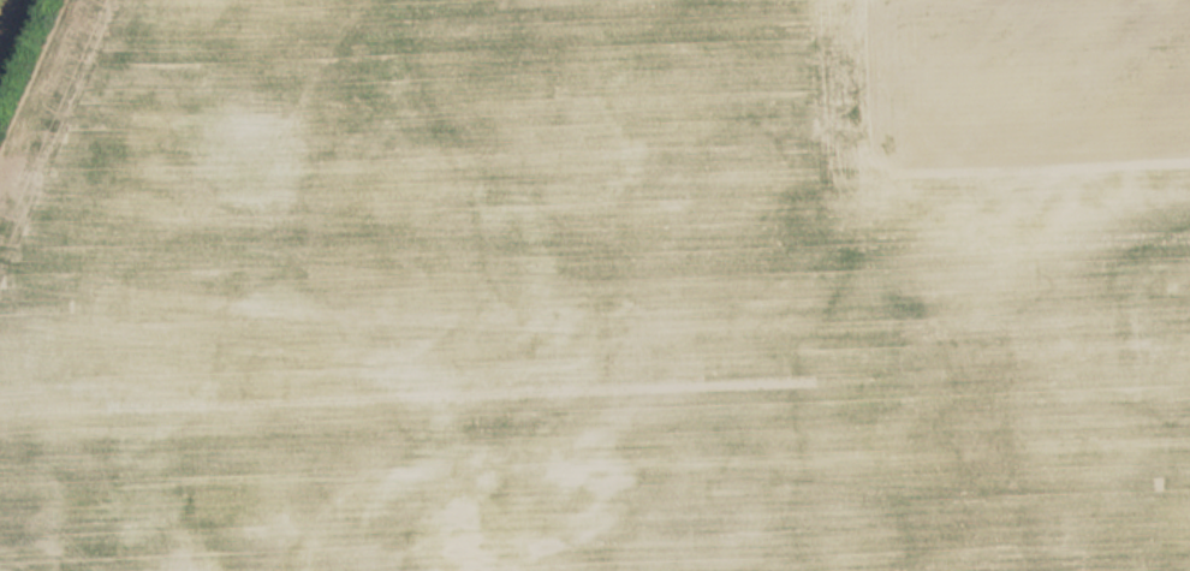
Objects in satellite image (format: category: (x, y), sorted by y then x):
road: (1, 2)
building: (56, 496)

